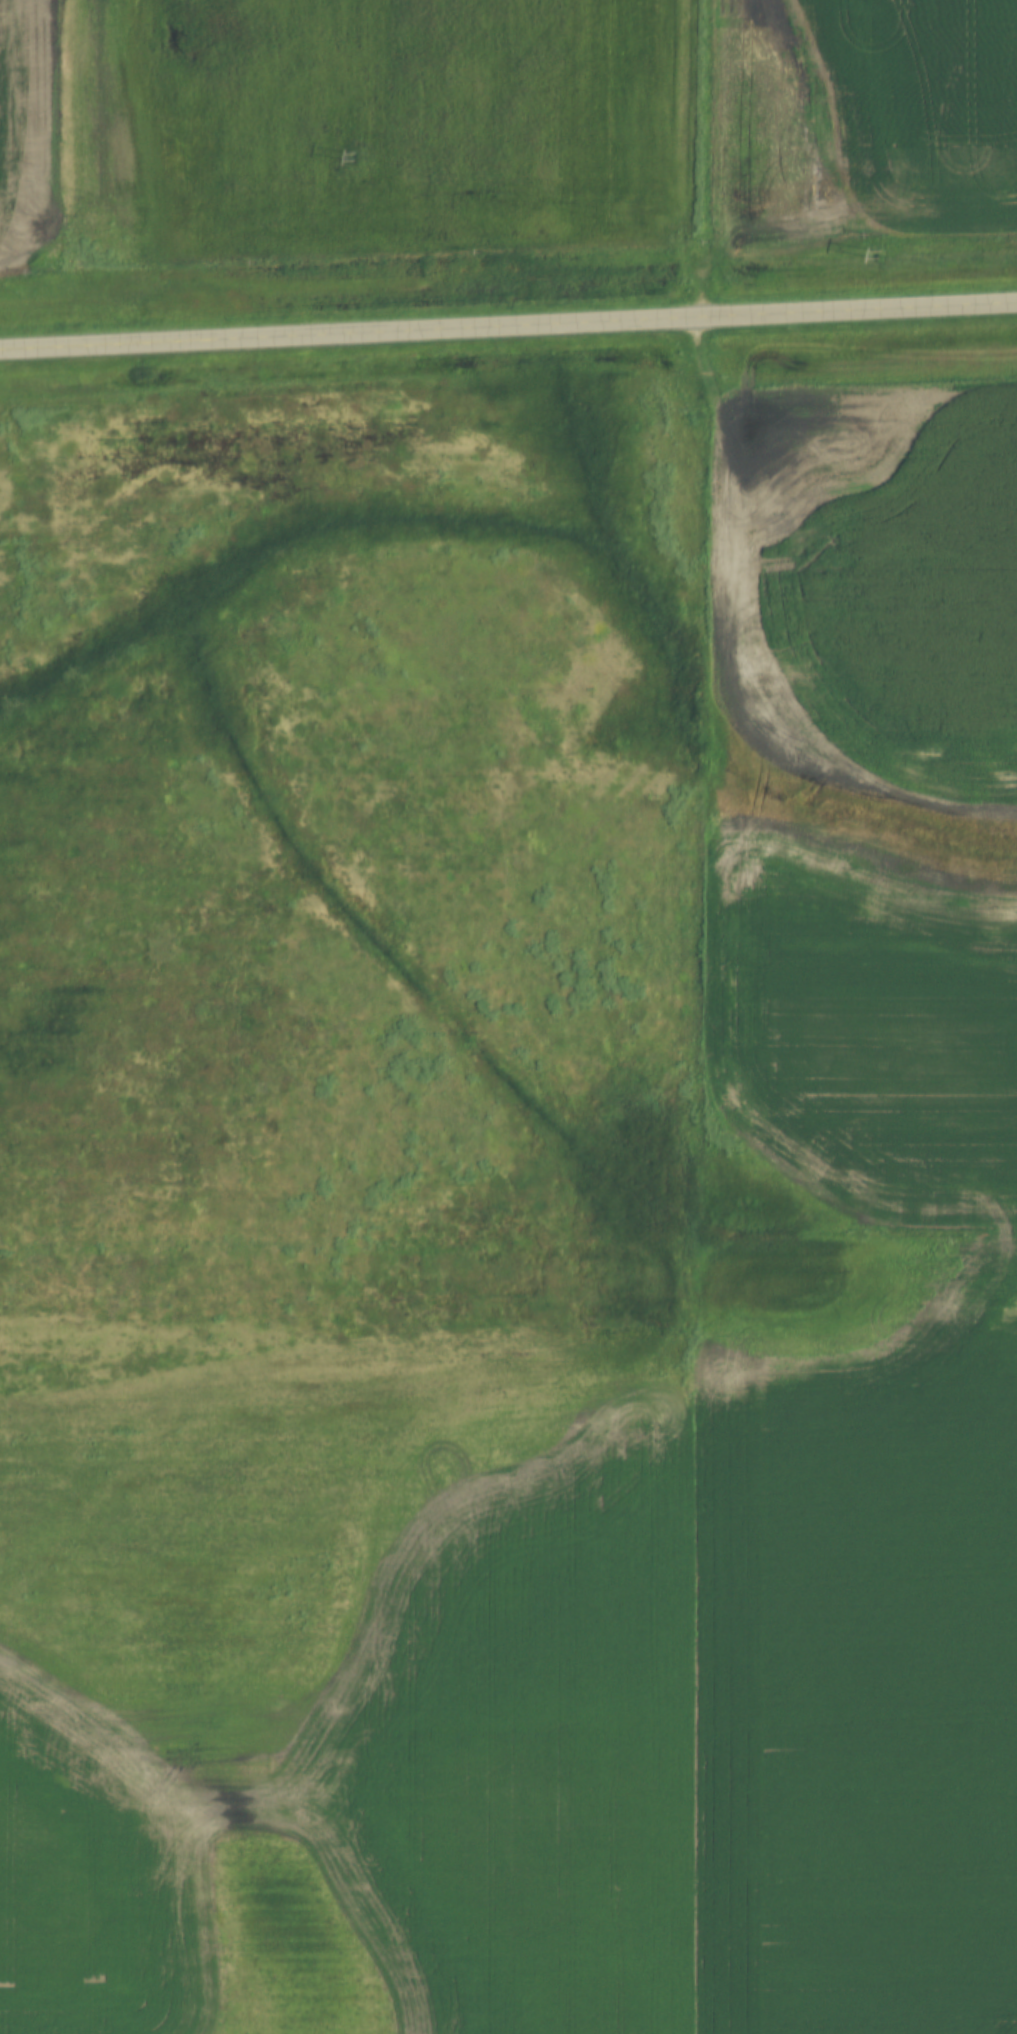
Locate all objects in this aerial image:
crop: (0, 74)
crop: (689, 111)
crop: (863, 120)
crop: (79, 147)
power tower: (353, 158)
power tower: (880, 257)
road: (508, 326)
crop: (860, 813)
crop: (529, 1673)

